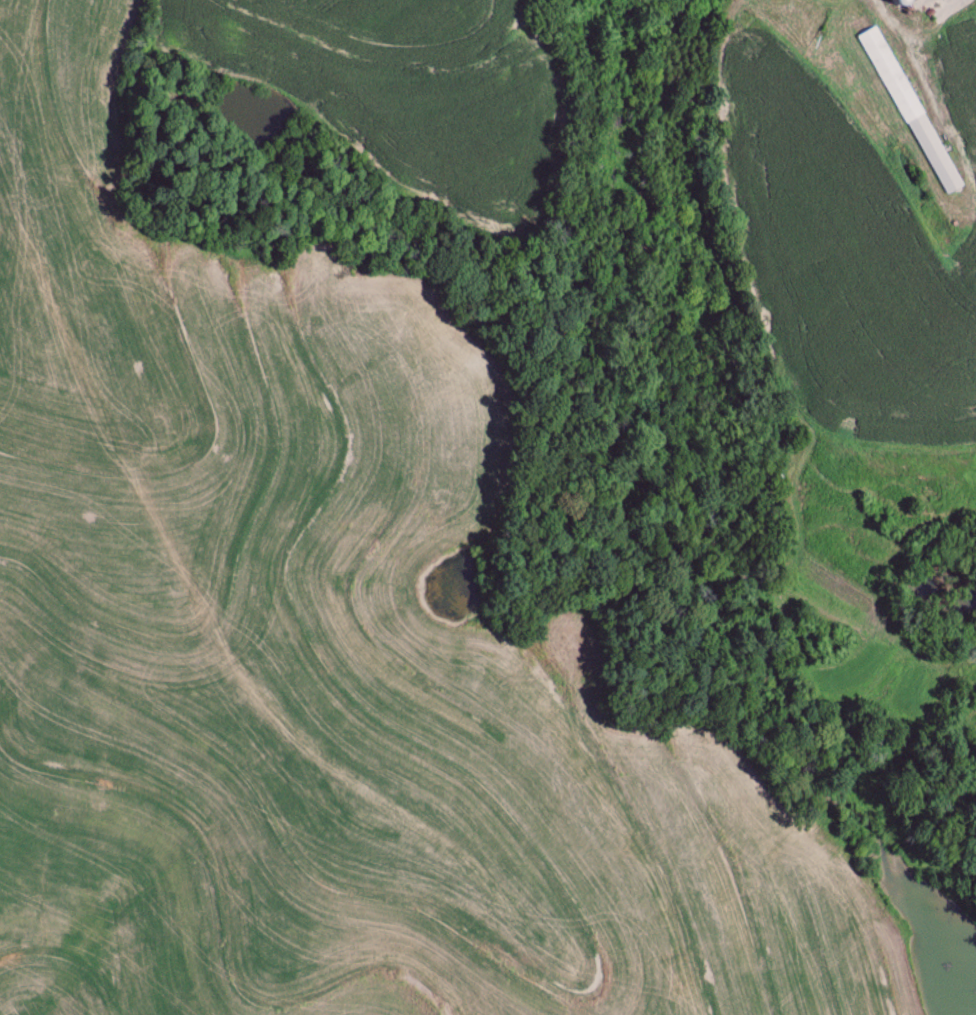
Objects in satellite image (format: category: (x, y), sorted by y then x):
building: (911, 111)
building: (751, 579)

